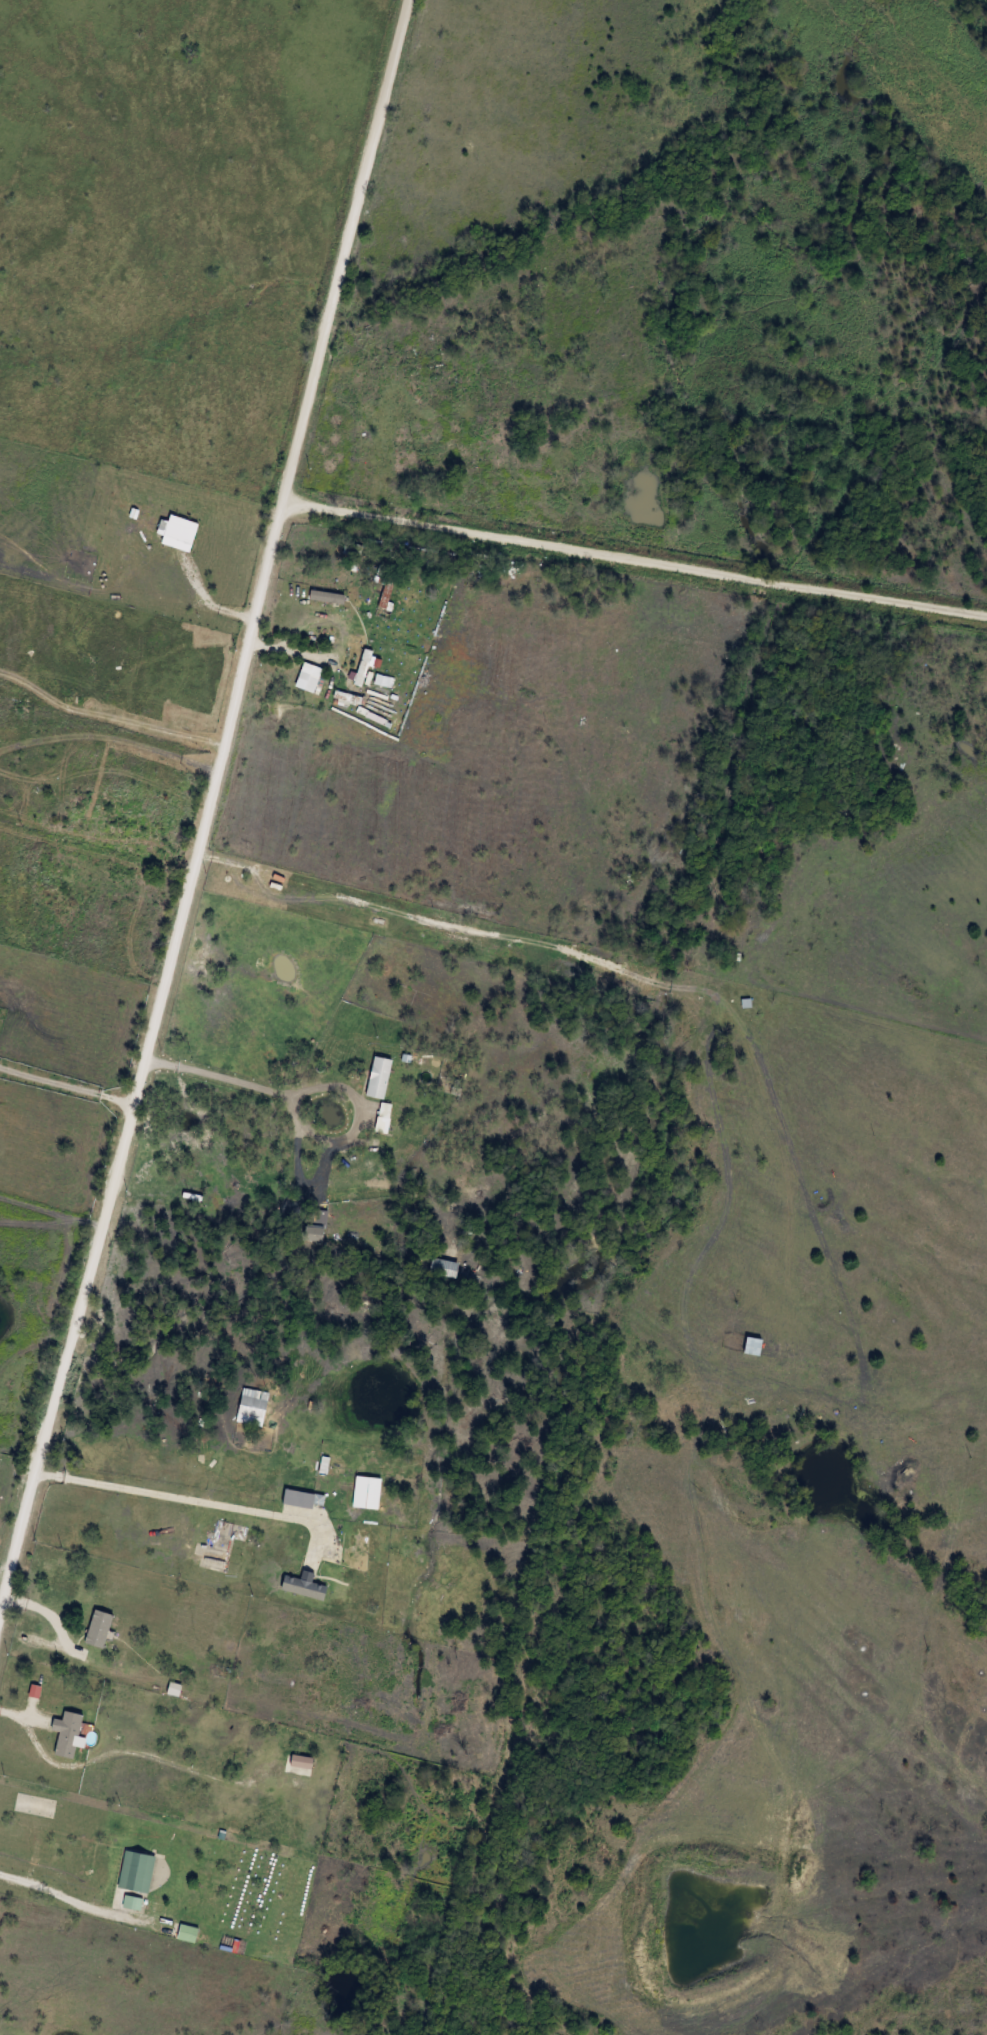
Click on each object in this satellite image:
building: (425, 369)
building: (378, 543)
road: (634, 557)
building: (386, 591)
road: (207, 604)
building: (363, 667)
road: (204, 807)
building: (380, 1078)
road: (231, 1082)
road: (64, 1092)
building: (246, 1200)
building: (318, 1219)
building: (186, 1282)
road: (186, 1499)
building: (304, 1590)
building: (97, 1629)
building: (70, 1735)
building: (137, 1872)
road: (59, 1893)
building: (132, 1903)
building: (188, 1934)

